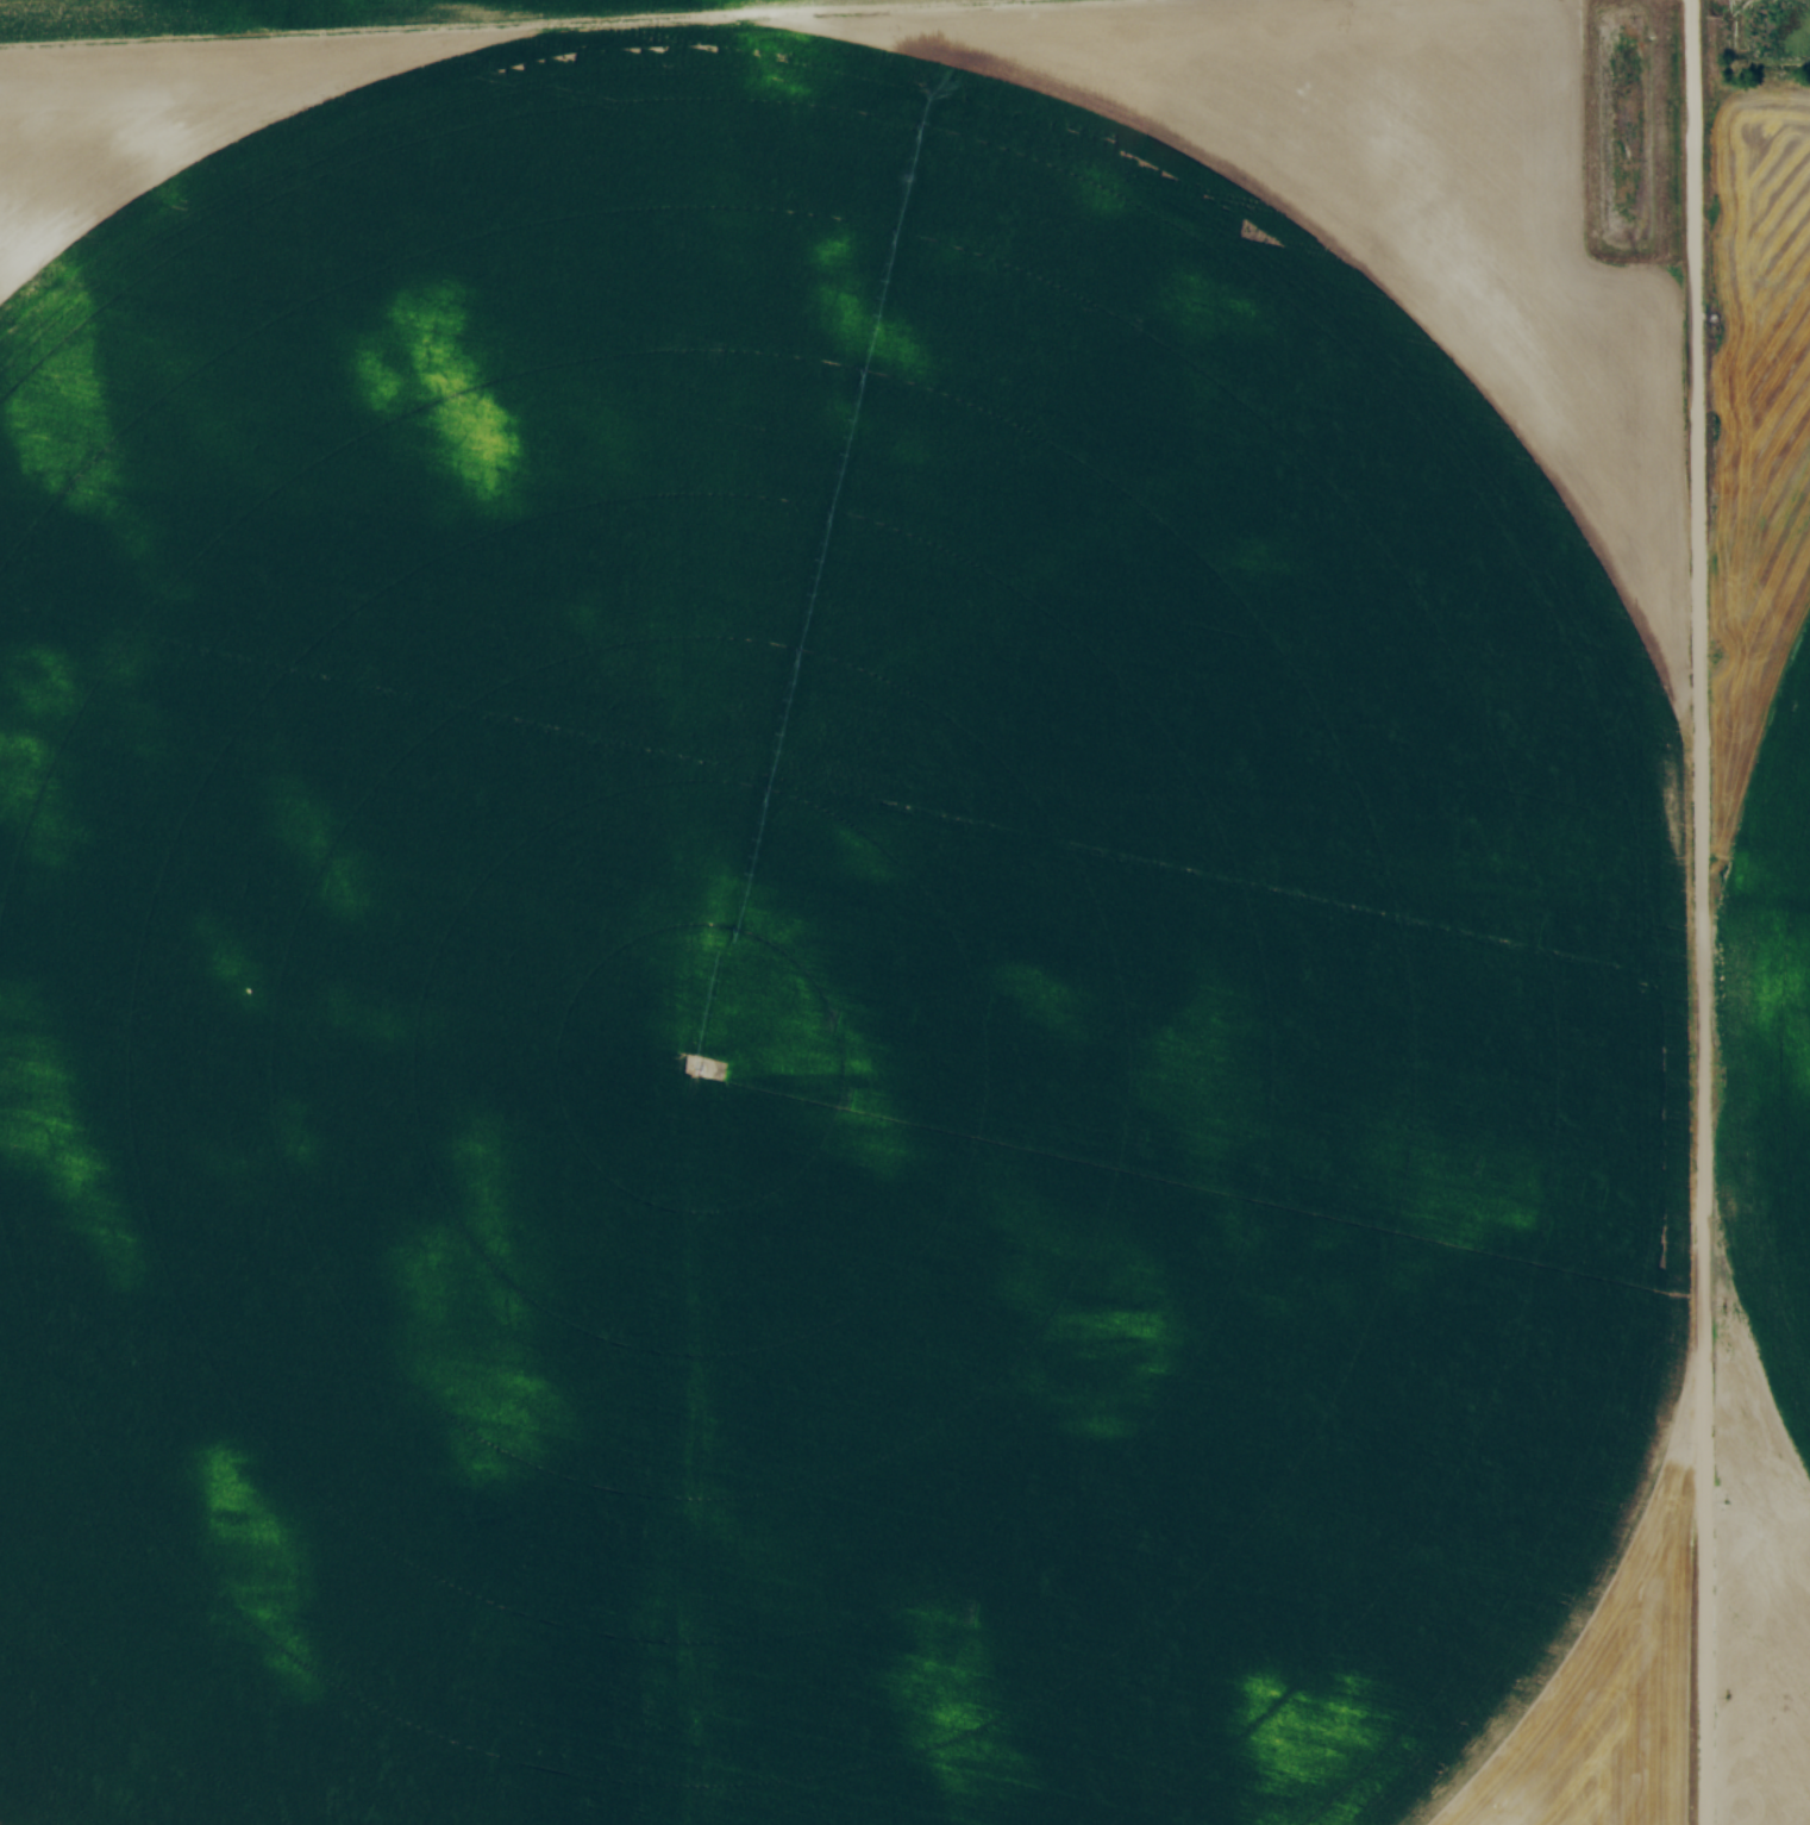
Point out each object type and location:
road: (1701, 912)
crop: (835, 920)
crop: (1762, 955)

